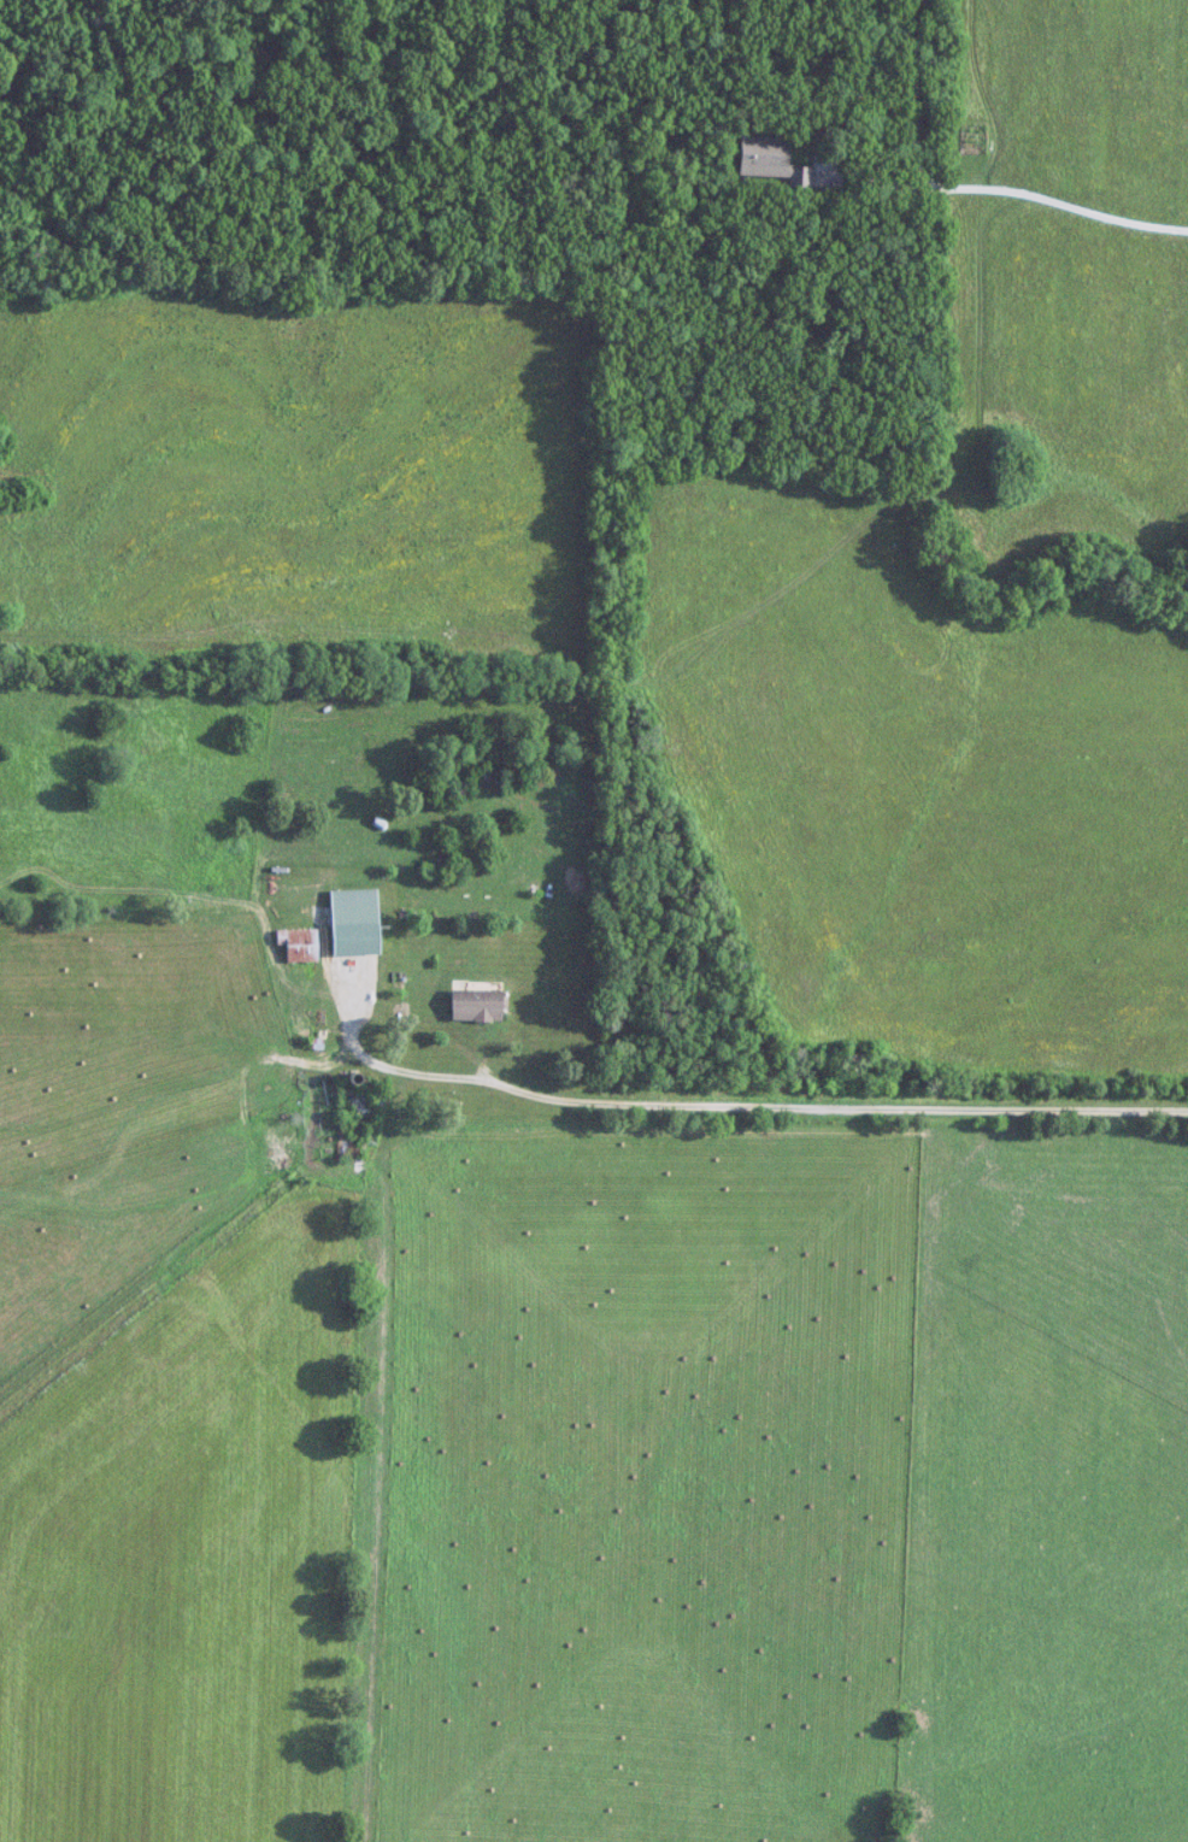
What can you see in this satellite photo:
road: (843, 125)
building: (777, 154)
building: (812, 178)
road: (1060, 196)
crop: (918, 783)
building: (301, 944)
building: (487, 1001)
road: (795, 1104)

